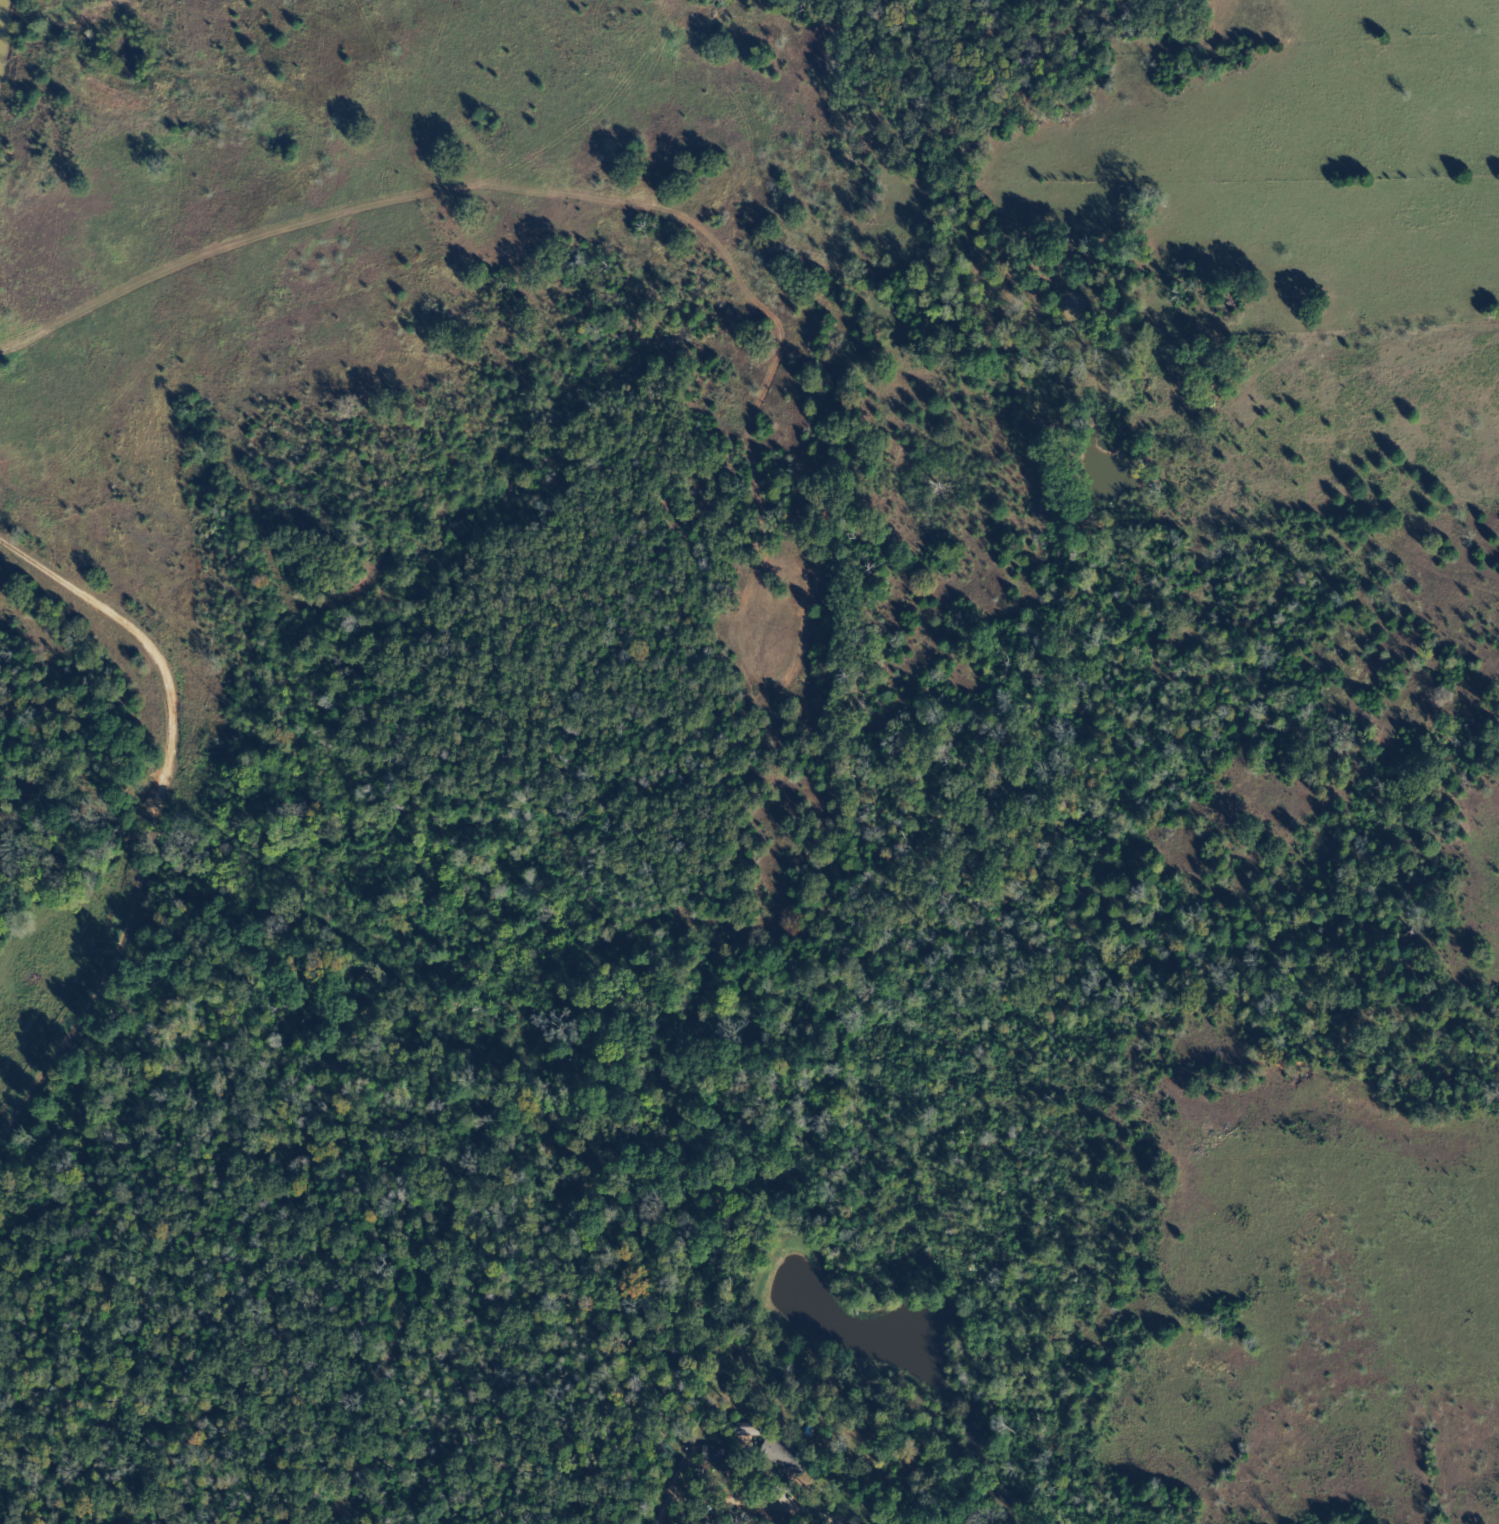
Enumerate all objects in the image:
road: (1023, 350)
road: (168, 784)
building: (787, 1455)

